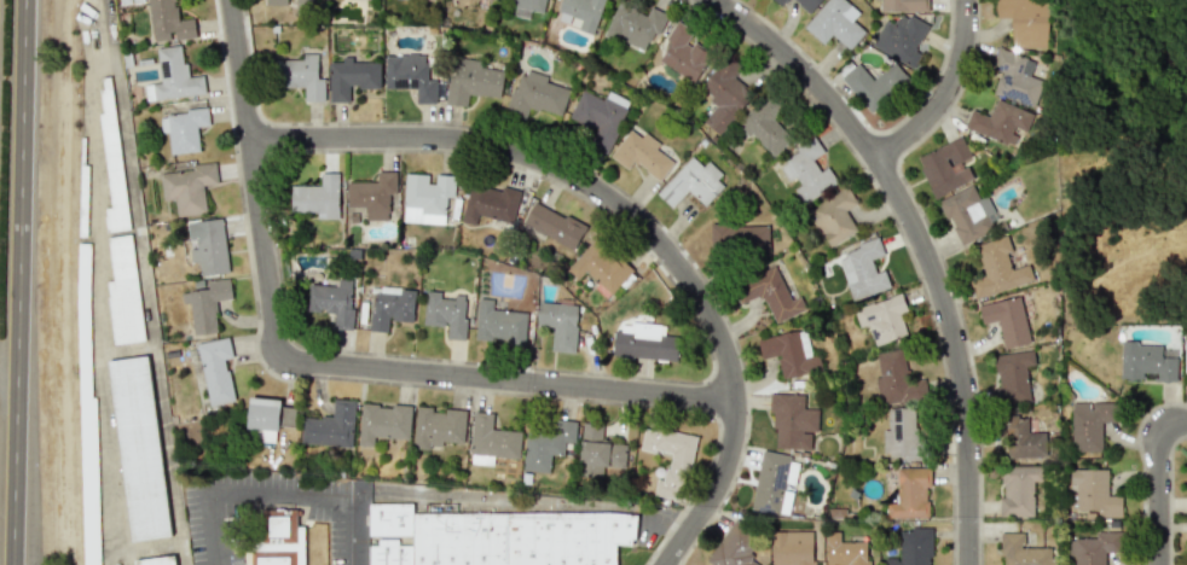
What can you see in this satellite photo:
building: (432, 0)
building: (280, 1)
building: (778, 1)
building: (807, 4)
building: (903, 5)
building: (527, 6)
building: (580, 12)
building: (168, 22)
building: (1025, 22)
building: (633, 24)
building: (833, 24)
building: (899, 39)
building: (683, 53)
rooftop solar panel: (1002, 65)
rooftop solar panel: (164, 68)
building: (410, 75)
building: (173, 76)
building: (301, 76)
building: (1015, 76)
building: (351, 77)
rooftop solar panel: (1008, 80)
building: (473, 81)
rooftop solar panel: (404, 83)
rooftop solar panel: (412, 83)
building: (868, 86)
road: (950, 92)
building: (534, 94)
building: (724, 95)
rooftop solar panel: (1017, 95)
building: (597, 118)
building: (1000, 122)
building: (765, 126)
building: (183, 129)
building: (641, 155)
building: (111, 163)
building: (948, 167)
building: (805, 171)
building: (691, 184)
building: (187, 187)
building: (372, 194)
building: (318, 197)
building: (425, 198)
building: (490, 203)
building: (967, 212)
road: (633, 215)
building: (834, 216)
building: (552, 226)
building: (739, 238)
building: (208, 245)
road: (927, 245)
building: (600, 267)
building: (996, 268)
building: (862, 270)
road: (16, 282)
building: (123, 291)
building: (769, 293)
building: (332, 302)
building: (205, 304)
building: (392, 307)
building: (445, 313)
building: (882, 319)
building: (1007, 320)
building: (499, 324)
building: (560, 324)
building: (643, 342)
building: (789, 353)
building: (1185, 356)
building: (1146, 362)
road: (328, 366)
building: (215, 369)
building: (1012, 377)
building: (896, 379)
rooftop solar panel: (901, 412)
building: (267, 418)
building: (792, 421)
building: (382, 423)
building: (1090, 424)
building: (330, 426)
building: (438, 426)
road: (1171, 426)
rooftop solar panel: (899, 431)
building: (899, 433)
building: (1021, 438)
building: (491, 441)
building: (145, 444)
building: (546, 444)
building: (598, 453)
building: (670, 459)
rooftop solar panel: (784, 477)
building: (89, 480)
building: (772, 480)
building: (1018, 489)
road: (280, 493)
building: (1093, 493)
building: (910, 494)
road: (1153, 496)
rooftop solar panel: (778, 499)
rooftop solar panel: (766, 508)
building: (498, 537)
building: (279, 540)
building: (792, 548)
building: (913, 548)
building: (845, 551)
building: (1023, 551)
building: (1087, 551)
building: (162, 563)

